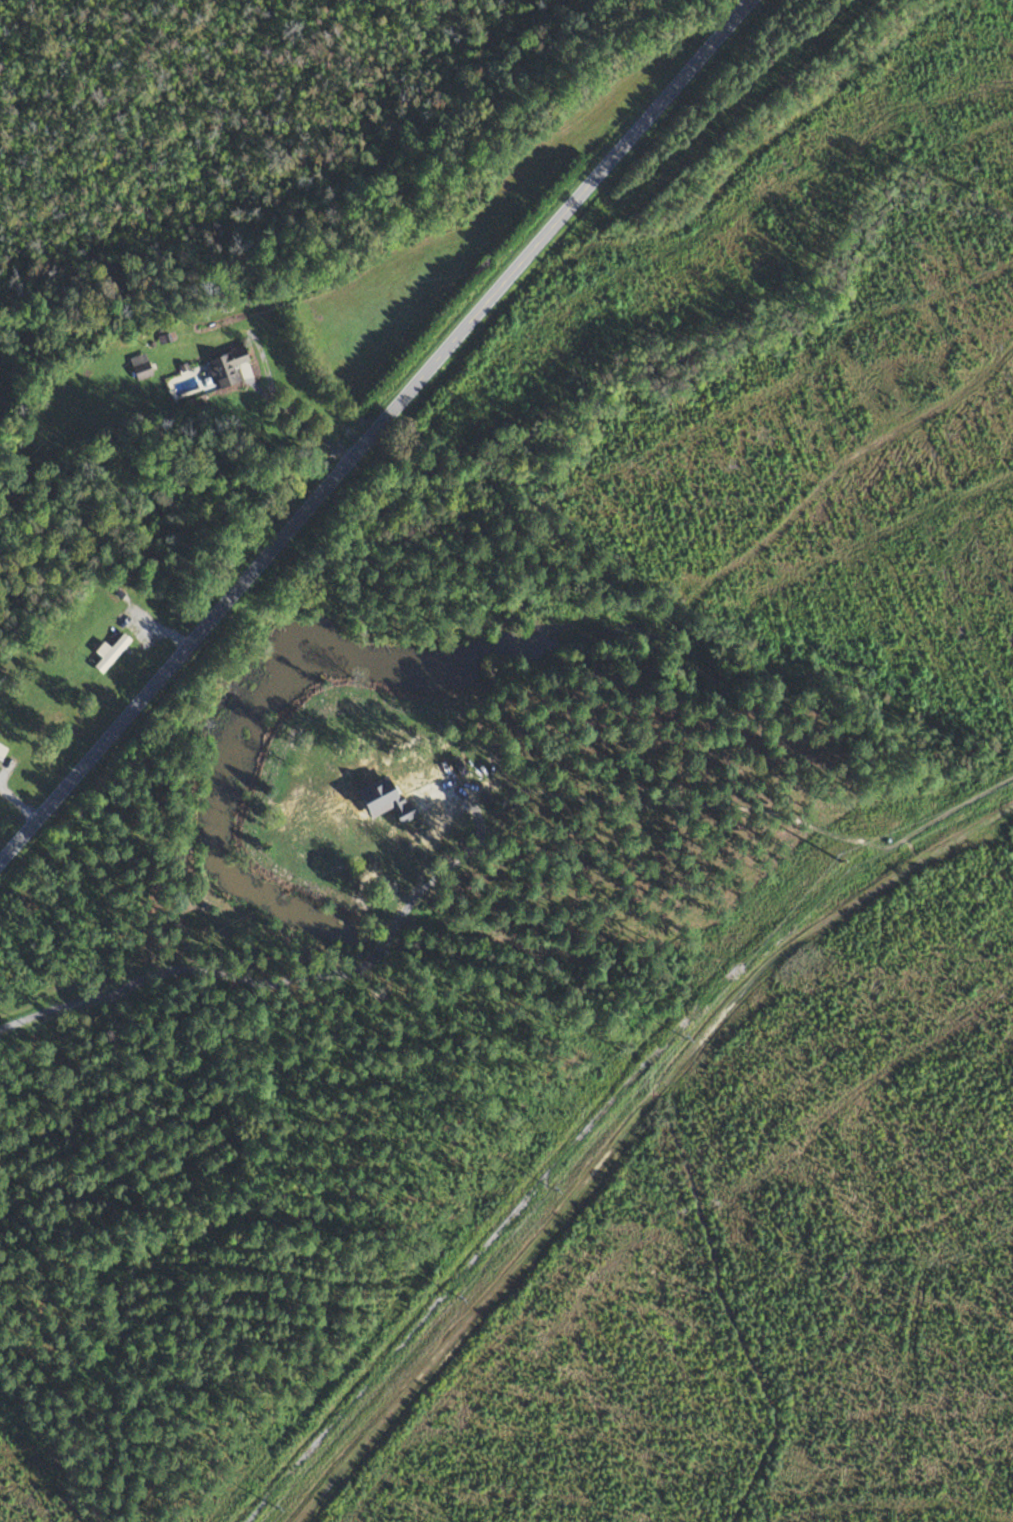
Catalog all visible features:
building: (142, 367)
building: (229, 367)
road: (293, 415)
road: (374, 429)
building: (111, 650)
road: (19, 802)
road: (702, 803)
road: (253, 977)

